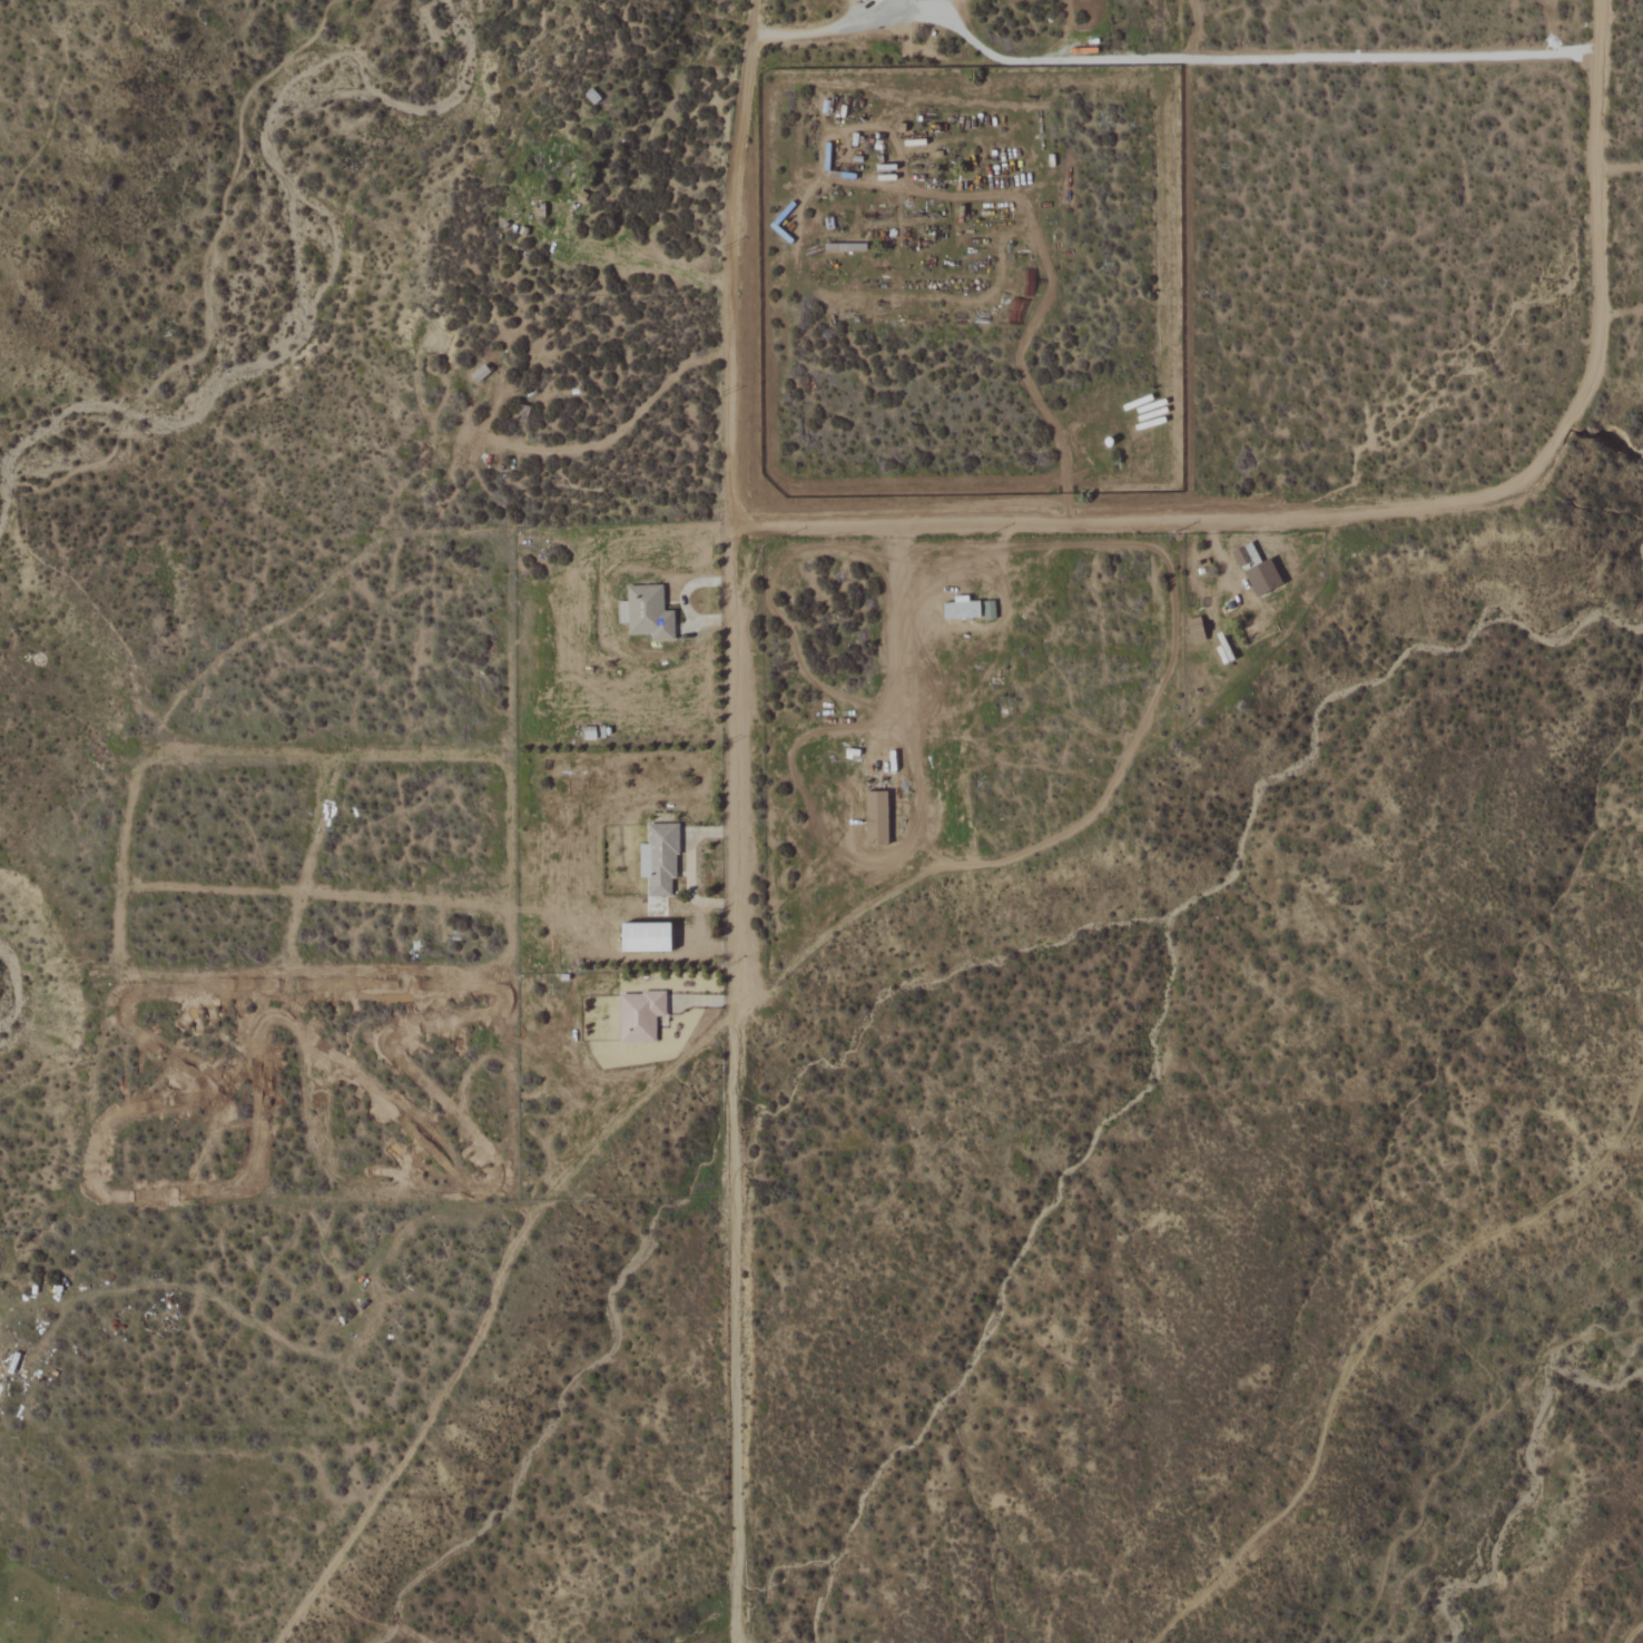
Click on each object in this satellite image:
road: (818, 29)
road: (1173, 257)
road: (638, 263)
building: (480, 374)
road: (1381, 504)
building: (962, 609)
building: (648, 613)
road: (892, 631)
building: (876, 818)
road: (734, 820)
building: (658, 860)
building: (646, 938)
building: (640, 1016)
road: (489, 1311)
road: (309, 1351)

